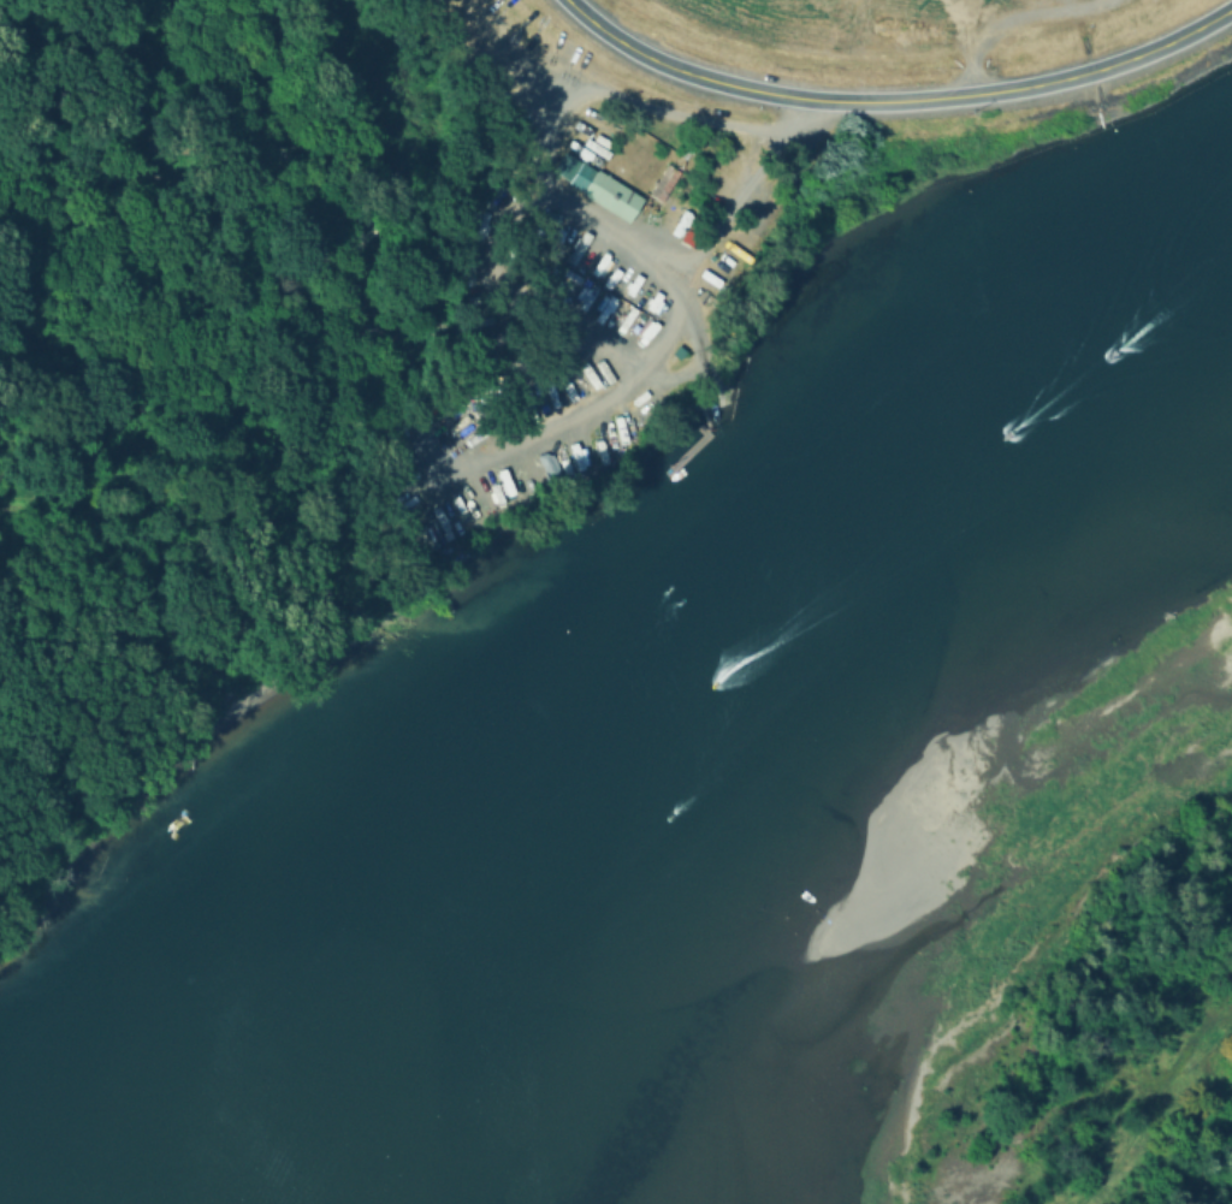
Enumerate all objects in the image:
crop: (888, 23)
road: (1033, 26)
road: (960, 89)
road: (895, 100)
road: (557, 108)
road: (129, 176)
building: (731, 176)
building: (608, 195)
building: (712, 225)
road: (677, 313)
river: (709, 695)

